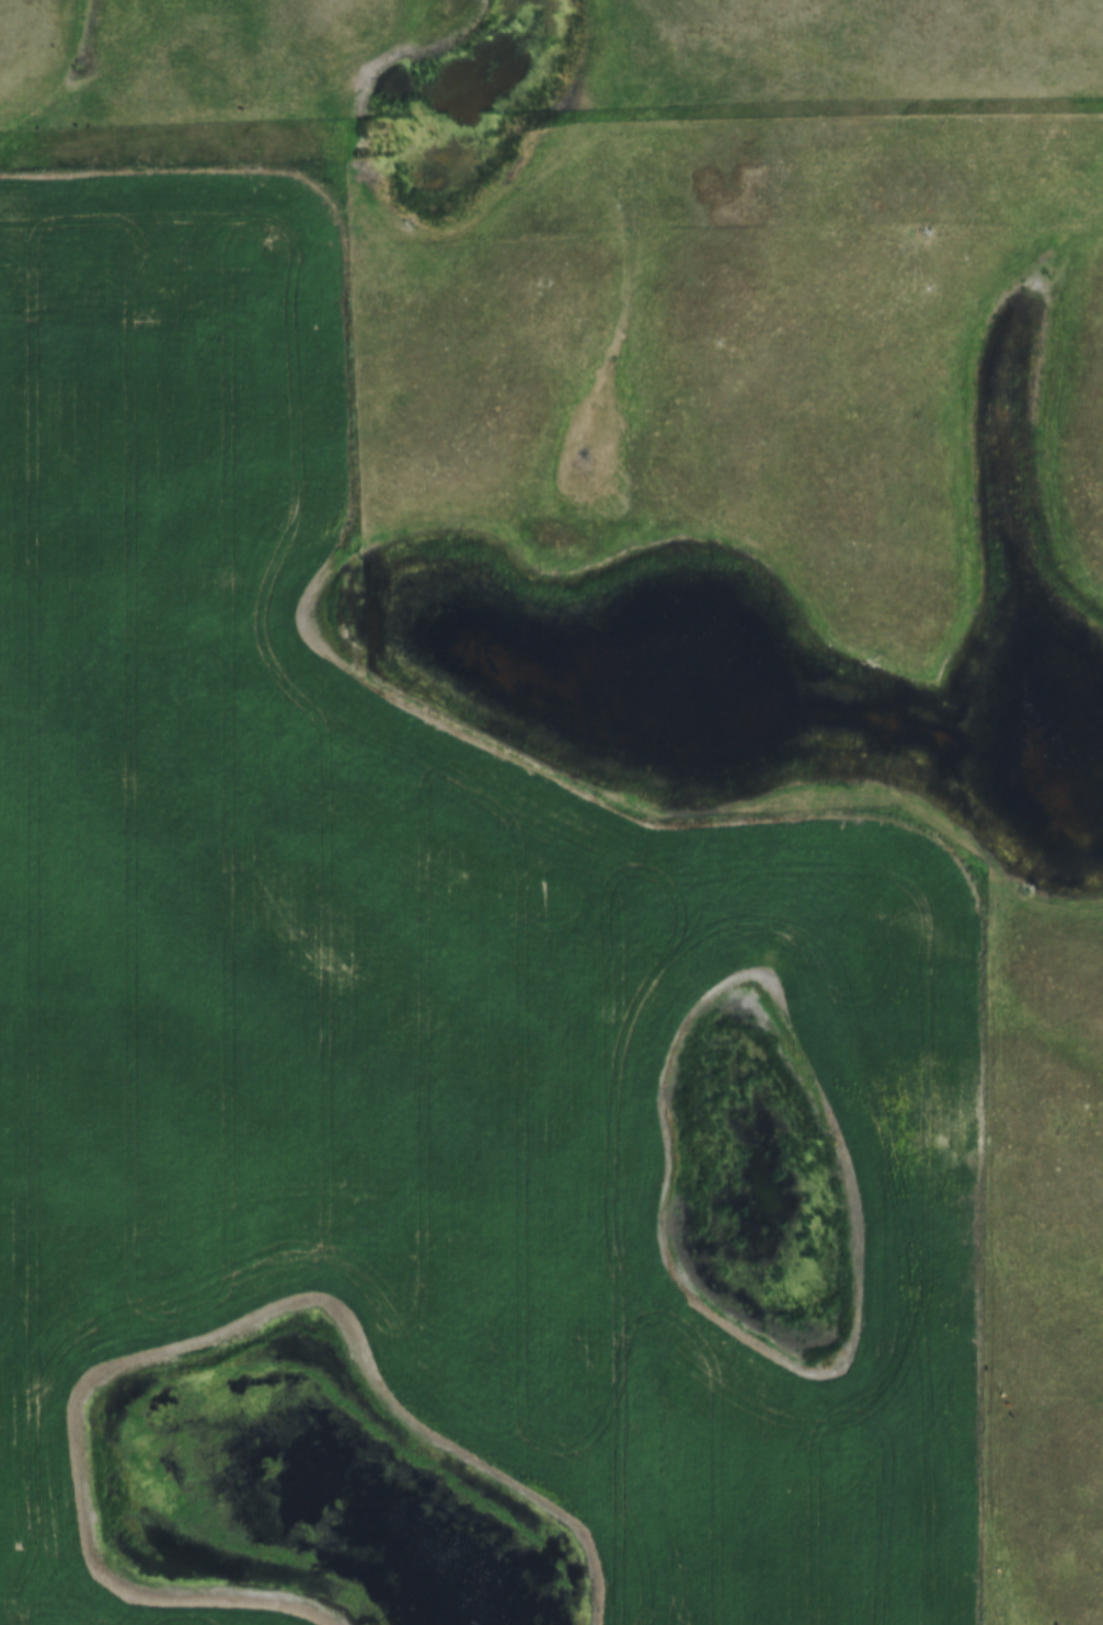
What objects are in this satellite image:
building: (562, 1340)

